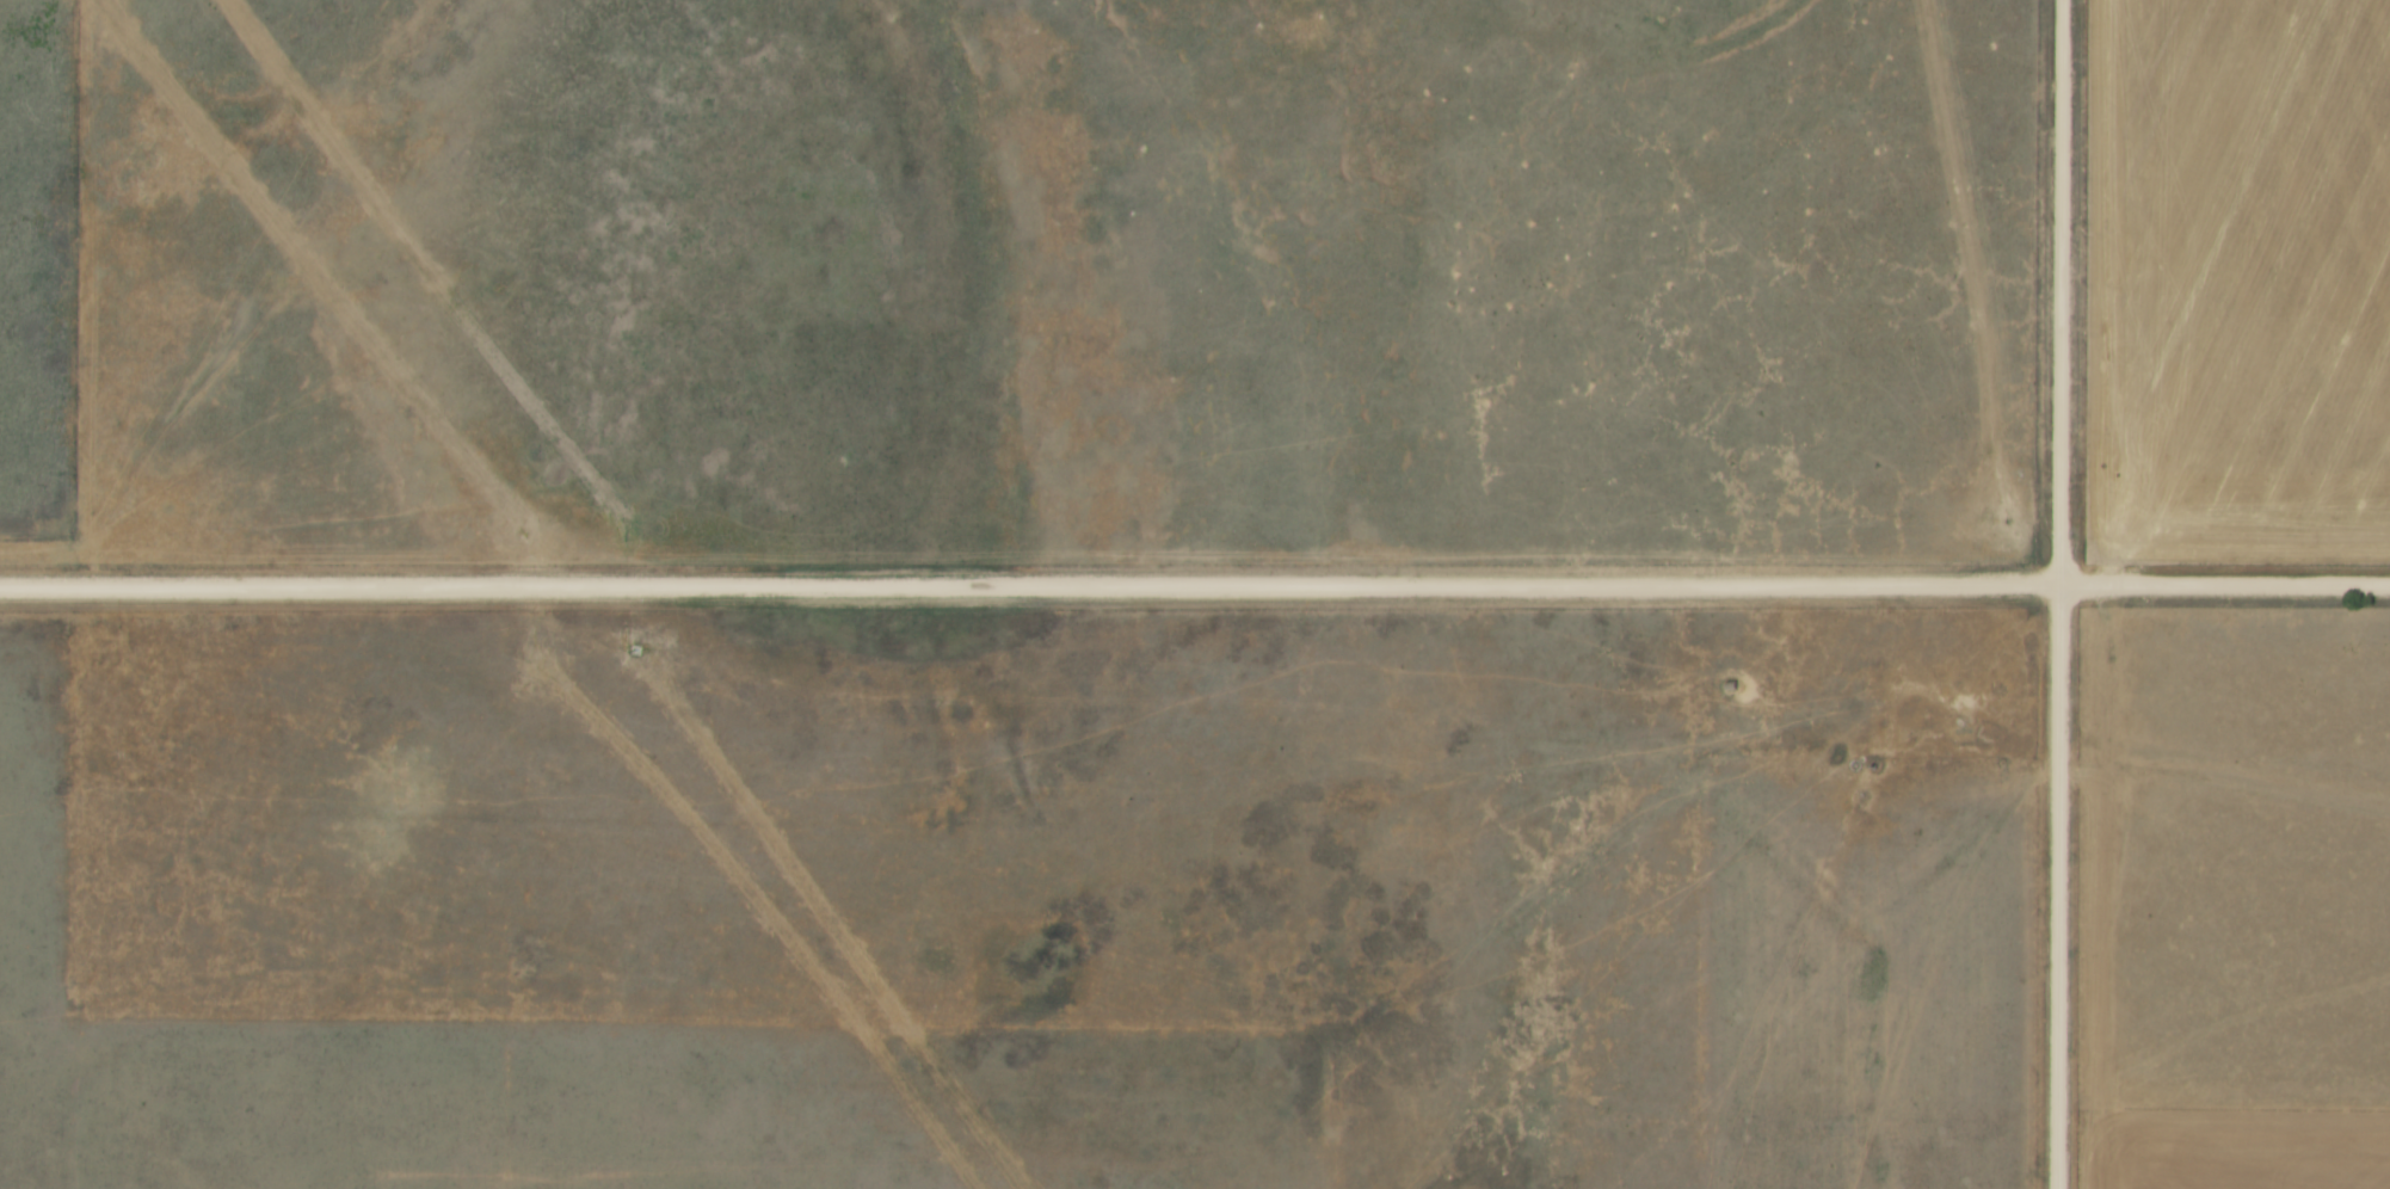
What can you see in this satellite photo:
road: (1194, 589)
road: (2061, 594)

